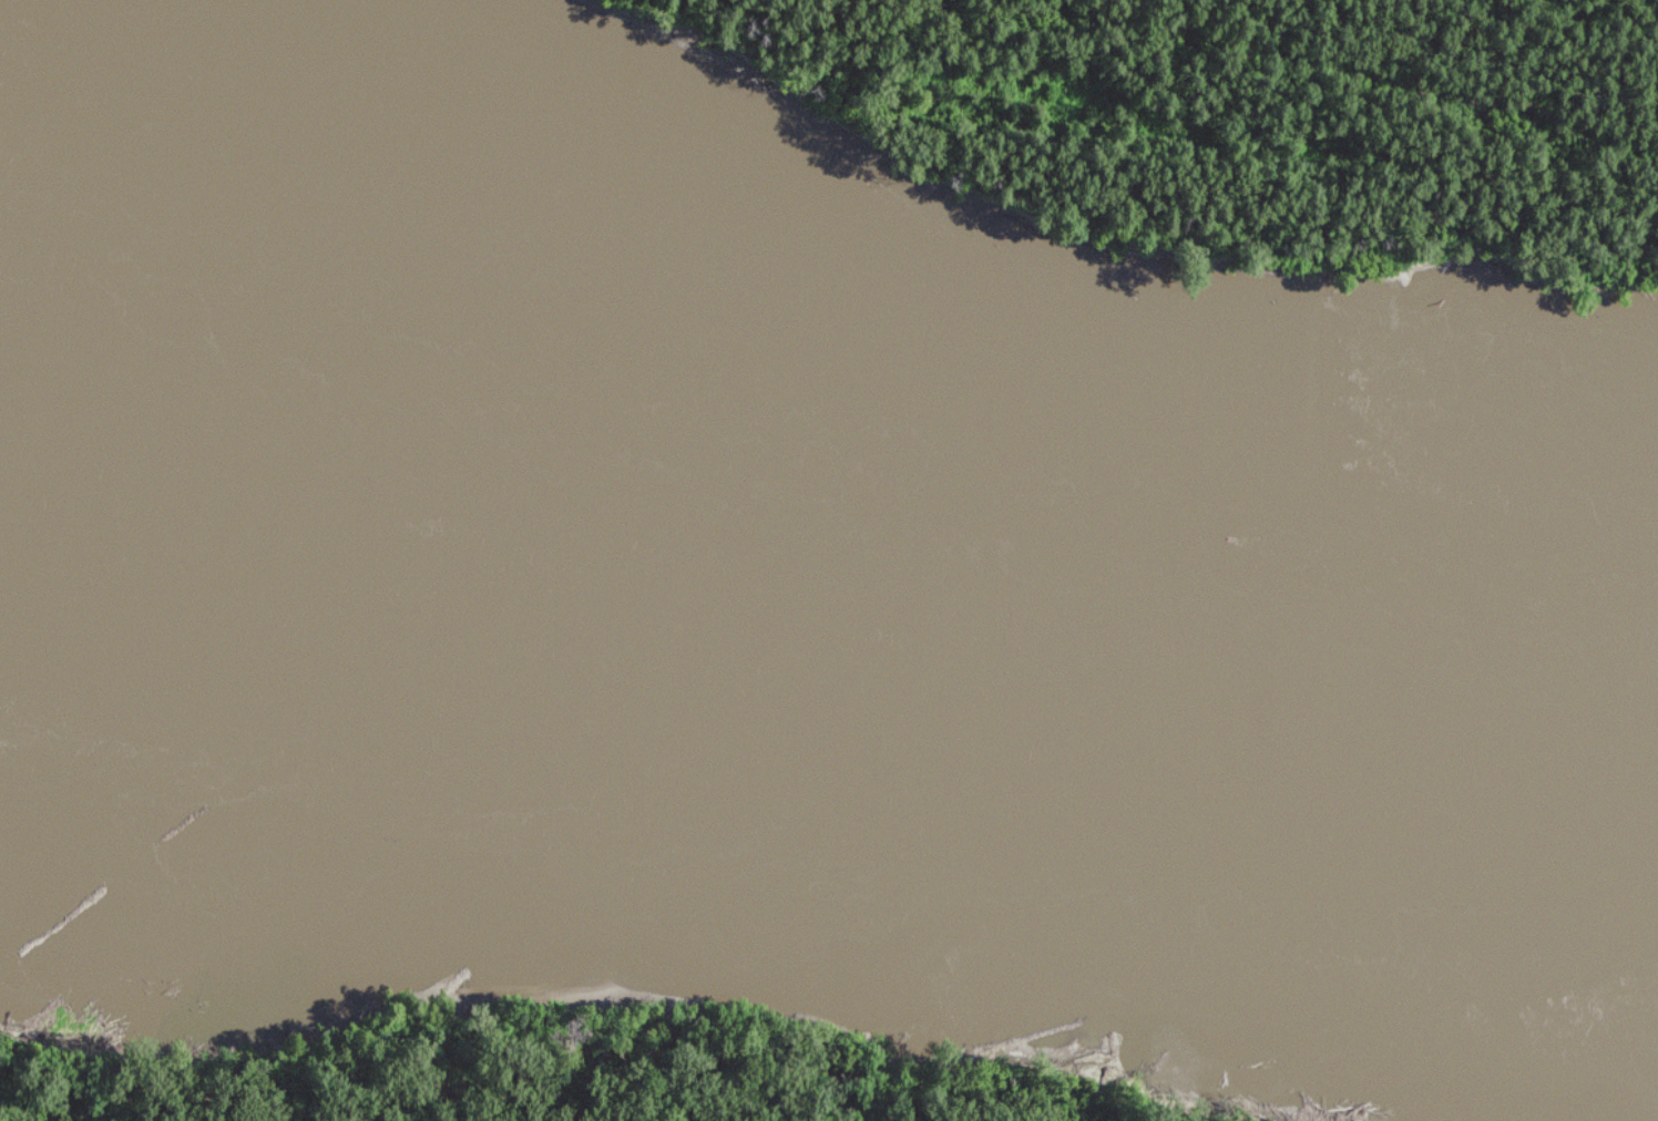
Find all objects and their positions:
river: (647, 318)
river: (812, 568)

